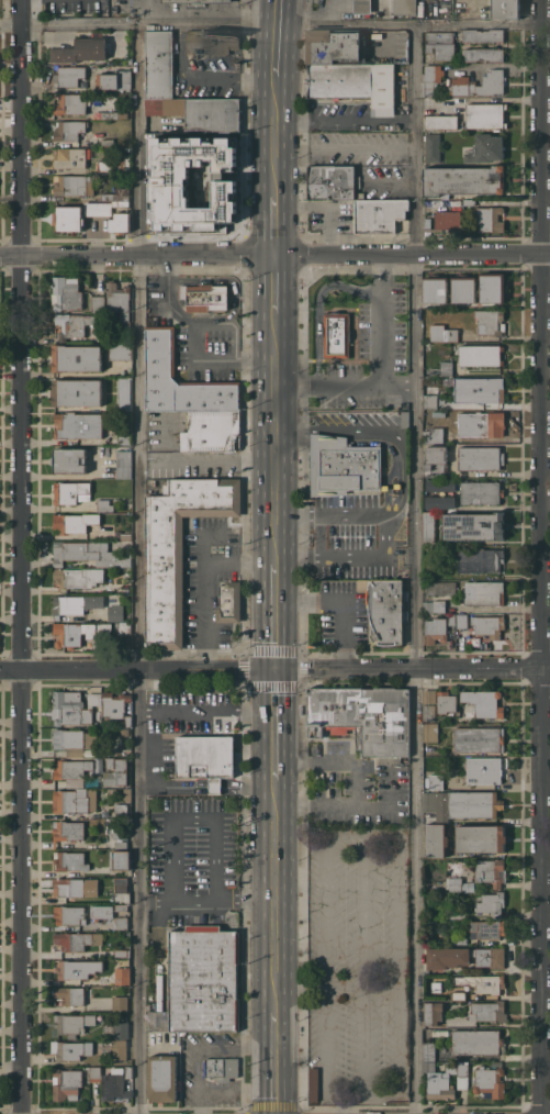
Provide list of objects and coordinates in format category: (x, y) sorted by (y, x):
building: (193, 1)
building: (362, 7)
building: (405, 7)
building: (505, 9)
road: (318, 14)
road: (274, 25)
building: (483, 35)
road: (280, 38)
building: (212, 42)
building: (440, 44)
building: (336, 47)
road: (181, 48)
building: (81, 49)
building: (482, 54)
building: (159, 64)
road: (498, 66)
building: (69, 76)
road: (229, 78)
building: (431, 79)
building: (115, 80)
building: (463, 82)
building: (355, 83)
road: (487, 100)
building: (72, 103)
building: (201, 112)
building: (110, 115)
building: (486, 115)
road: (348, 122)
building: (441, 122)
building: (69, 130)
road: (279, 136)
building: (108, 142)
building: (433, 148)
building: (486, 148)
building: (74, 157)
building: (108, 169)
building: (463, 180)
building: (333, 182)
building: (74, 185)
building: (361, 194)
building: (184, 200)
building: (470, 202)
building: (108, 203)
building: (379, 215)
building: (69, 219)
building: (491, 219)
building: (445, 221)
road: (279, 222)
building: (121, 223)
road: (274, 249)
road: (279, 283)
building: (493, 288)
building: (436, 289)
building: (463, 290)
building: (66, 293)
building: (205, 297)
building: (98, 303)
building: (120, 303)
road: (318, 304)
road: (382, 316)
building: (490, 321)
building: (71, 325)
building: (444, 333)
building: (337, 335)
road: (195, 337)
building: (160, 350)
building: (121, 354)
building: (481, 355)
building: (77, 357)
building: (442, 369)
building: (448, 381)
road: (347, 383)
building: (479, 390)
building: (77, 392)
building: (124, 393)
building: (430, 401)
road: (548, 404)
building: (405, 419)
building: (480, 424)
building: (78, 425)
road: (340, 430)
building: (212, 432)
building: (434, 435)
building: (124, 437)
road: (277, 441)
road: (548, 441)
building: (481, 458)
building: (70, 460)
road: (215, 461)
building: (436, 461)
building: (124, 464)
building: (344, 466)
building: (440, 484)
building: (71, 492)
building: (481, 492)
building: (116, 501)
building: (441, 502)
building: (104, 505)
road: (368, 512)
building: (81, 525)
building: (429, 526)
building: (473, 526)
building: (178, 548)
building: (88, 554)
road: (25, 556)
road: (138, 556)
road: (547, 557)
building: (480, 559)
road: (413, 569)
building: (78, 577)
road: (210, 581)
building: (441, 588)
building: (483, 592)
road: (343, 601)
building: (229, 602)
building: (75, 604)
building: (435, 606)
road: (500, 609)
building: (386, 611)
building: (116, 613)
road: (276, 615)
building: (452, 620)
building: (483, 624)
building: (114, 627)
building: (435, 631)
building: (74, 633)
building: (460, 634)
road: (274, 668)
traffic signals: (276, 668)
building: (429, 697)
building: (446, 702)
building: (484, 702)
building: (115, 703)
building: (74, 708)
road: (206, 710)
building: (429, 713)
building: (364, 717)
building: (128, 721)
road: (274, 723)
building: (98, 724)
building: (123, 732)
building: (430, 732)
building: (479, 739)
building: (75, 740)
building: (205, 758)
building: (72, 769)
building: (485, 770)
building: (115, 771)
building: (437, 782)
road: (358, 783)
road: (173, 786)
road: (215, 787)
road: (248, 787)
building: (112, 792)
building: (126, 793)
building: (70, 801)
building: (474, 804)
building: (121, 811)
building: (429, 815)
road: (194, 817)
building: (68, 831)
building: (121, 833)
building: (481, 838)
building: (436, 840)
building: (121, 844)
building: (121, 860)
building: (70, 861)
building: (491, 871)
building: (121, 880)
road: (364, 884)
building: (456, 884)
building: (469, 887)
building: (69, 888)
road: (274, 893)
road: (206, 899)
building: (492, 904)
building: (121, 907)
building: (102, 911)
building: (69, 914)
building: (457, 914)
building: (122, 922)
building: (489, 929)
building: (457, 938)
building: (76, 940)
building: (123, 953)
building: (447, 957)
building: (491, 957)
road: (326, 963)
building: (70, 969)
building: (123, 976)
building: (201, 981)
building: (483, 982)
building: (437, 987)
road: (336, 989)
building: (69, 995)
building: (458, 995)
building: (121, 1003)
building: (489, 1011)
building: (433, 1012)
building: (74, 1023)
building: (121, 1029)
road: (400, 1037)
building: (478, 1041)
road: (202, 1046)
building: (121, 1049)
building: (70, 1050)
building: (429, 1050)
road: (274, 1060)
building: (221, 1068)
building: (451, 1068)
building: (128, 1072)
building: (94, 1073)
building: (463, 1074)
building: (162, 1078)
building: (490, 1081)
building: (314, 1083)
building: (438, 1083)
building: (67, 1084)
building: (114, 1085)
road: (235, 1088)
road: (345, 1101)

